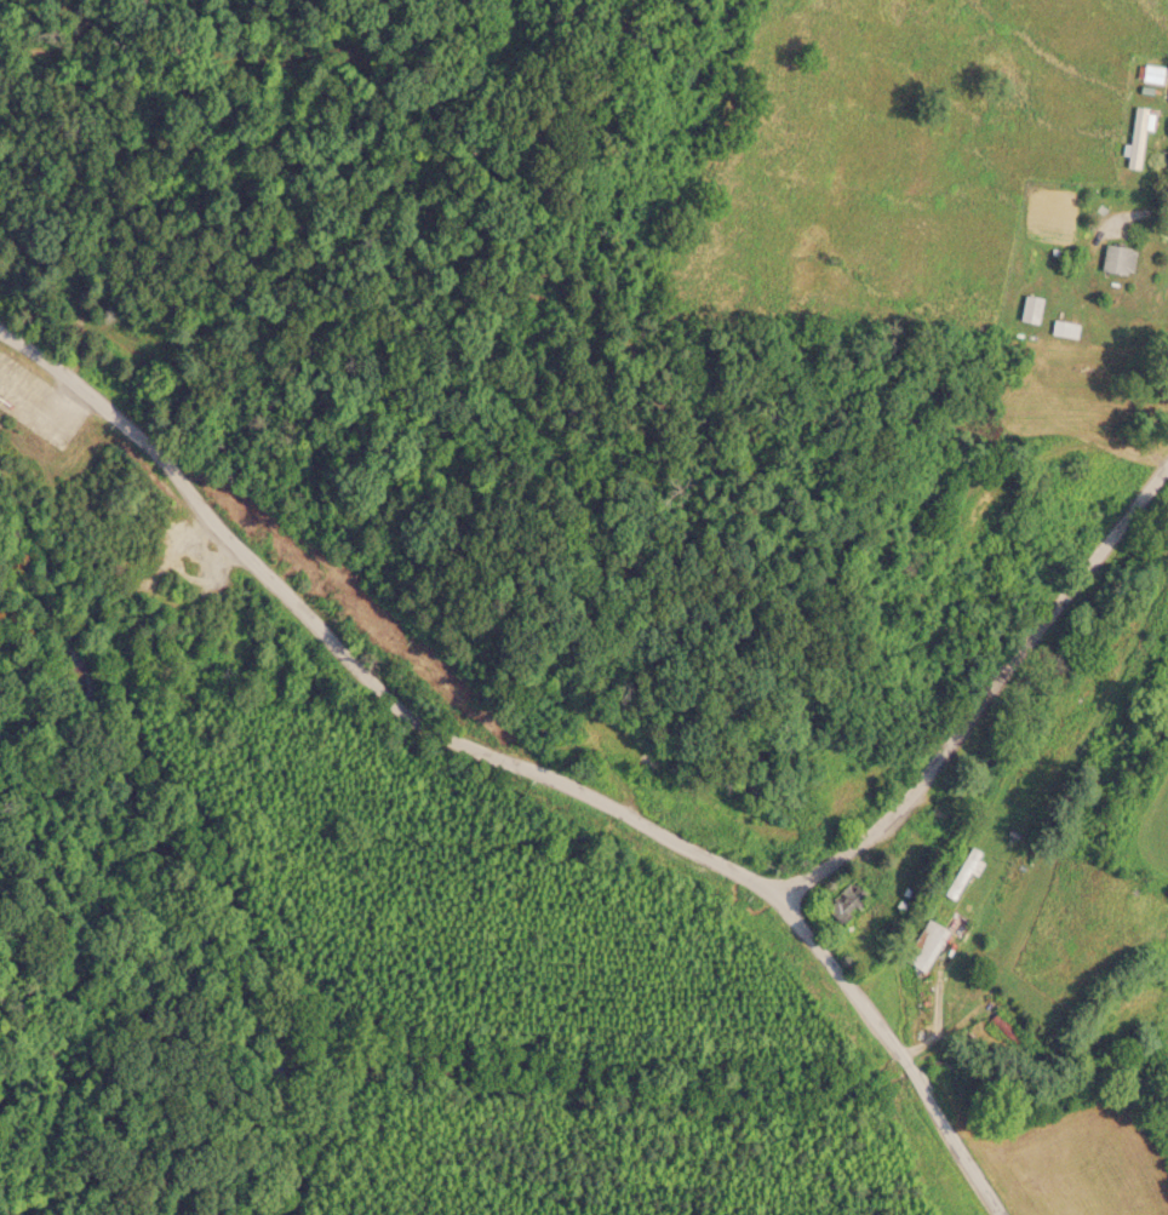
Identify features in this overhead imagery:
building: (1150, 74)
building: (1134, 138)
building: (1113, 260)
building: (1026, 310)
building: (1061, 329)
road: (985, 694)
road: (517, 762)
building: (646, 766)
building: (963, 872)
building: (922, 945)

